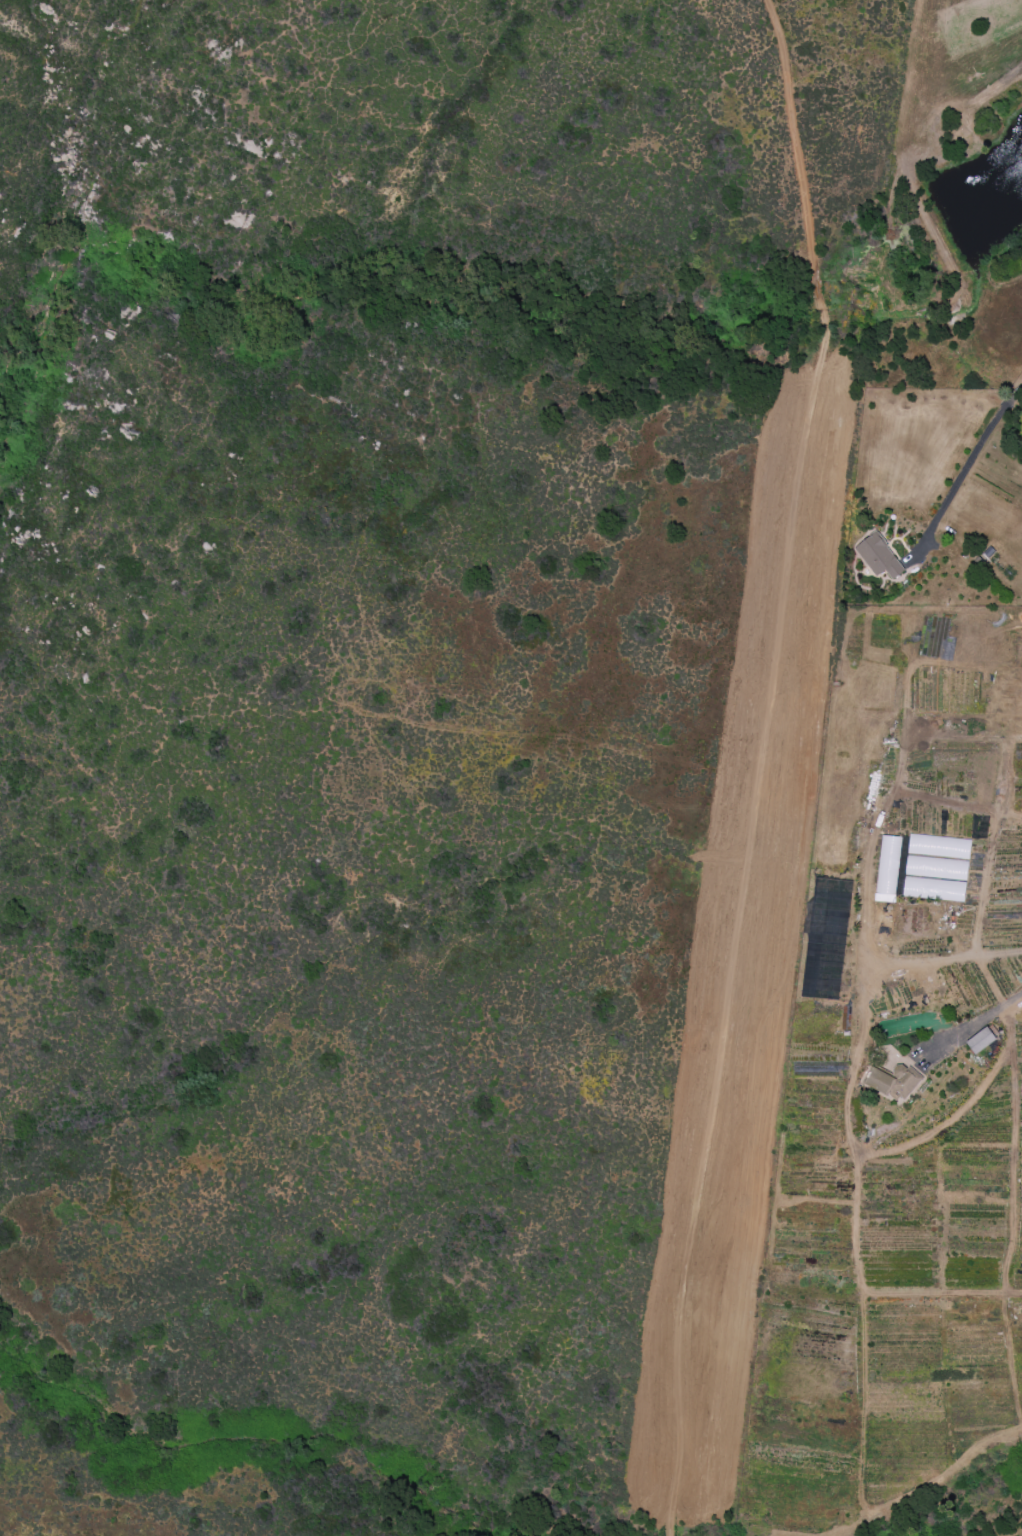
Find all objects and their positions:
road: (1017, 388)
road: (962, 473)
building: (879, 557)
road: (760, 765)
building: (939, 847)
building: (936, 868)
building: (934, 889)
road: (991, 1012)
building: (981, 1040)
building: (894, 1082)

